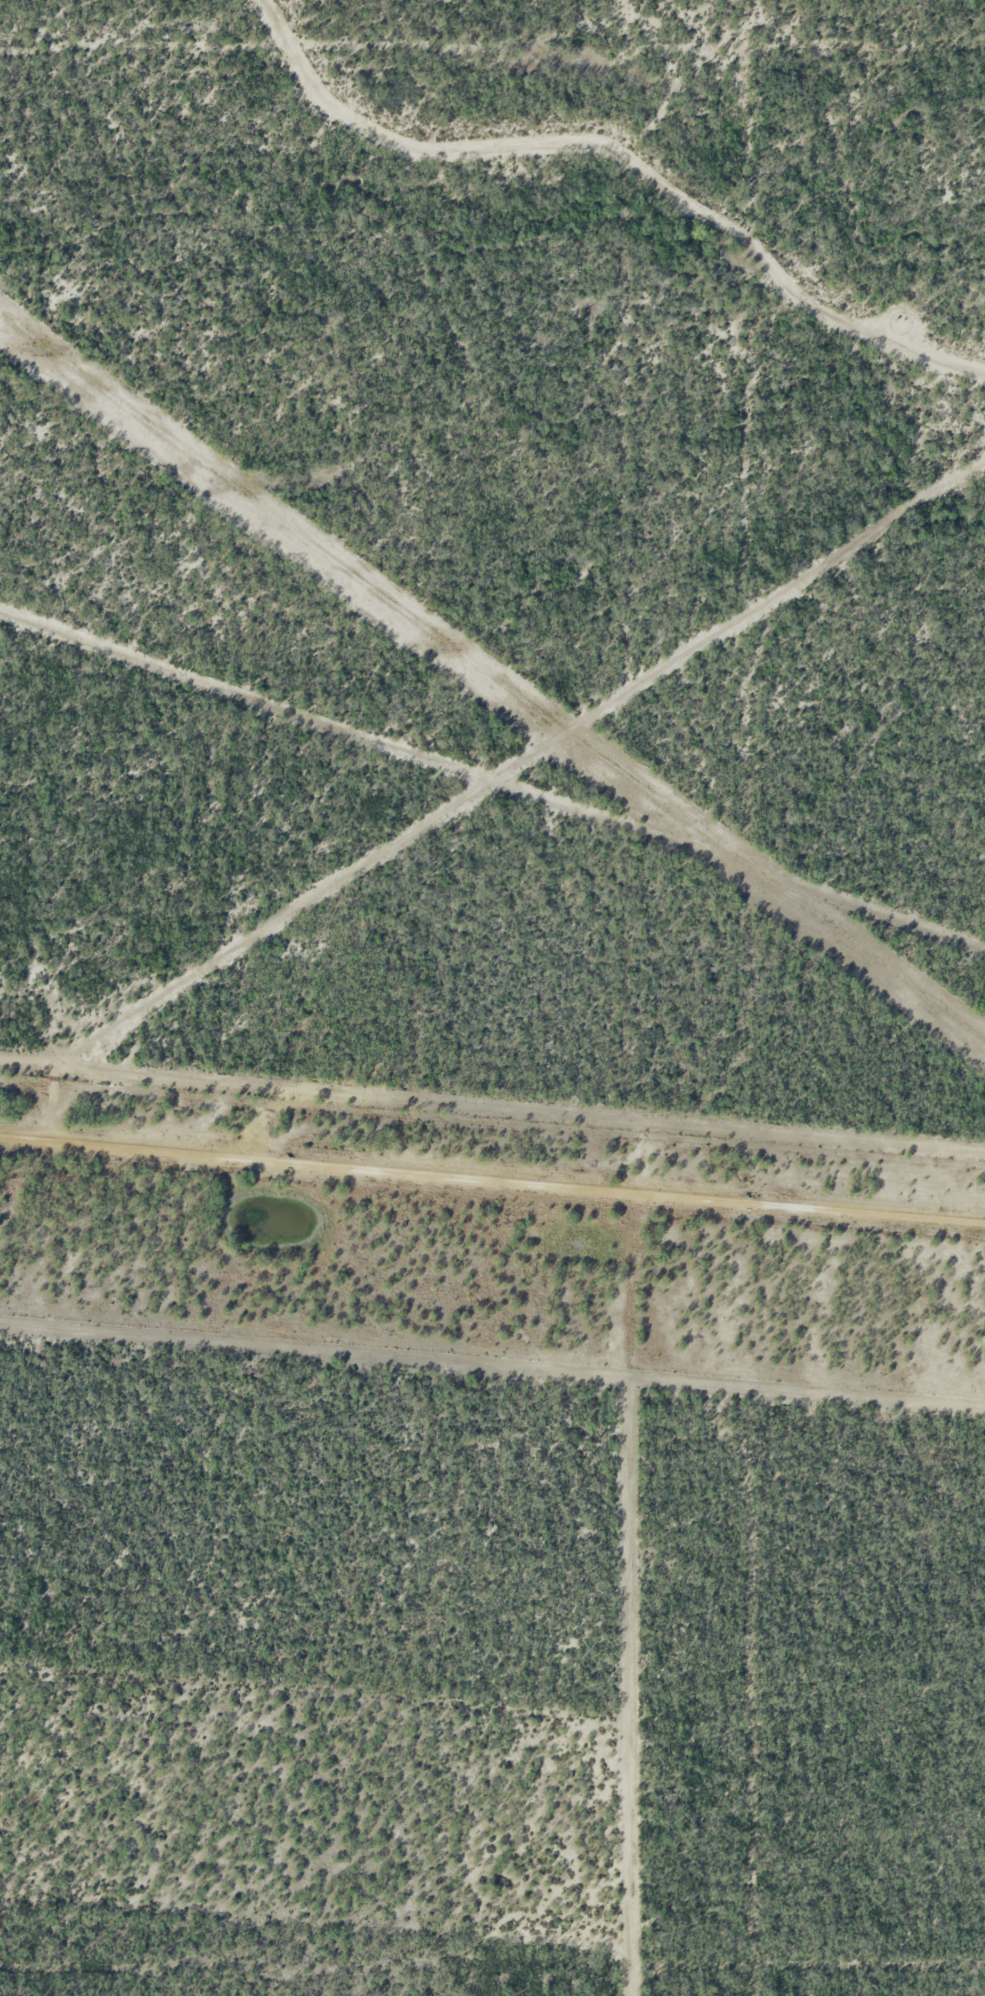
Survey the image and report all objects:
road: (492, 1179)

